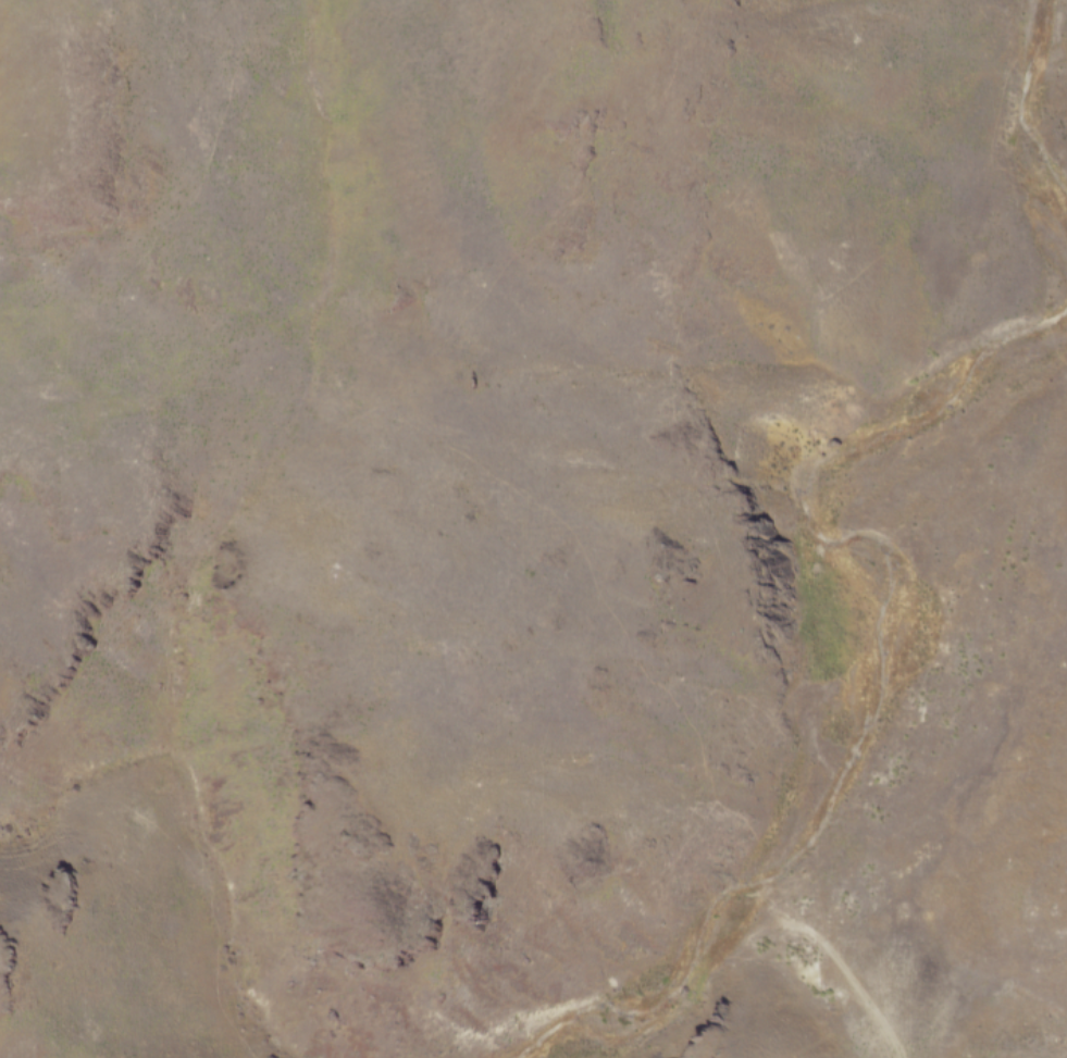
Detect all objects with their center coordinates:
road: (863, 996)

